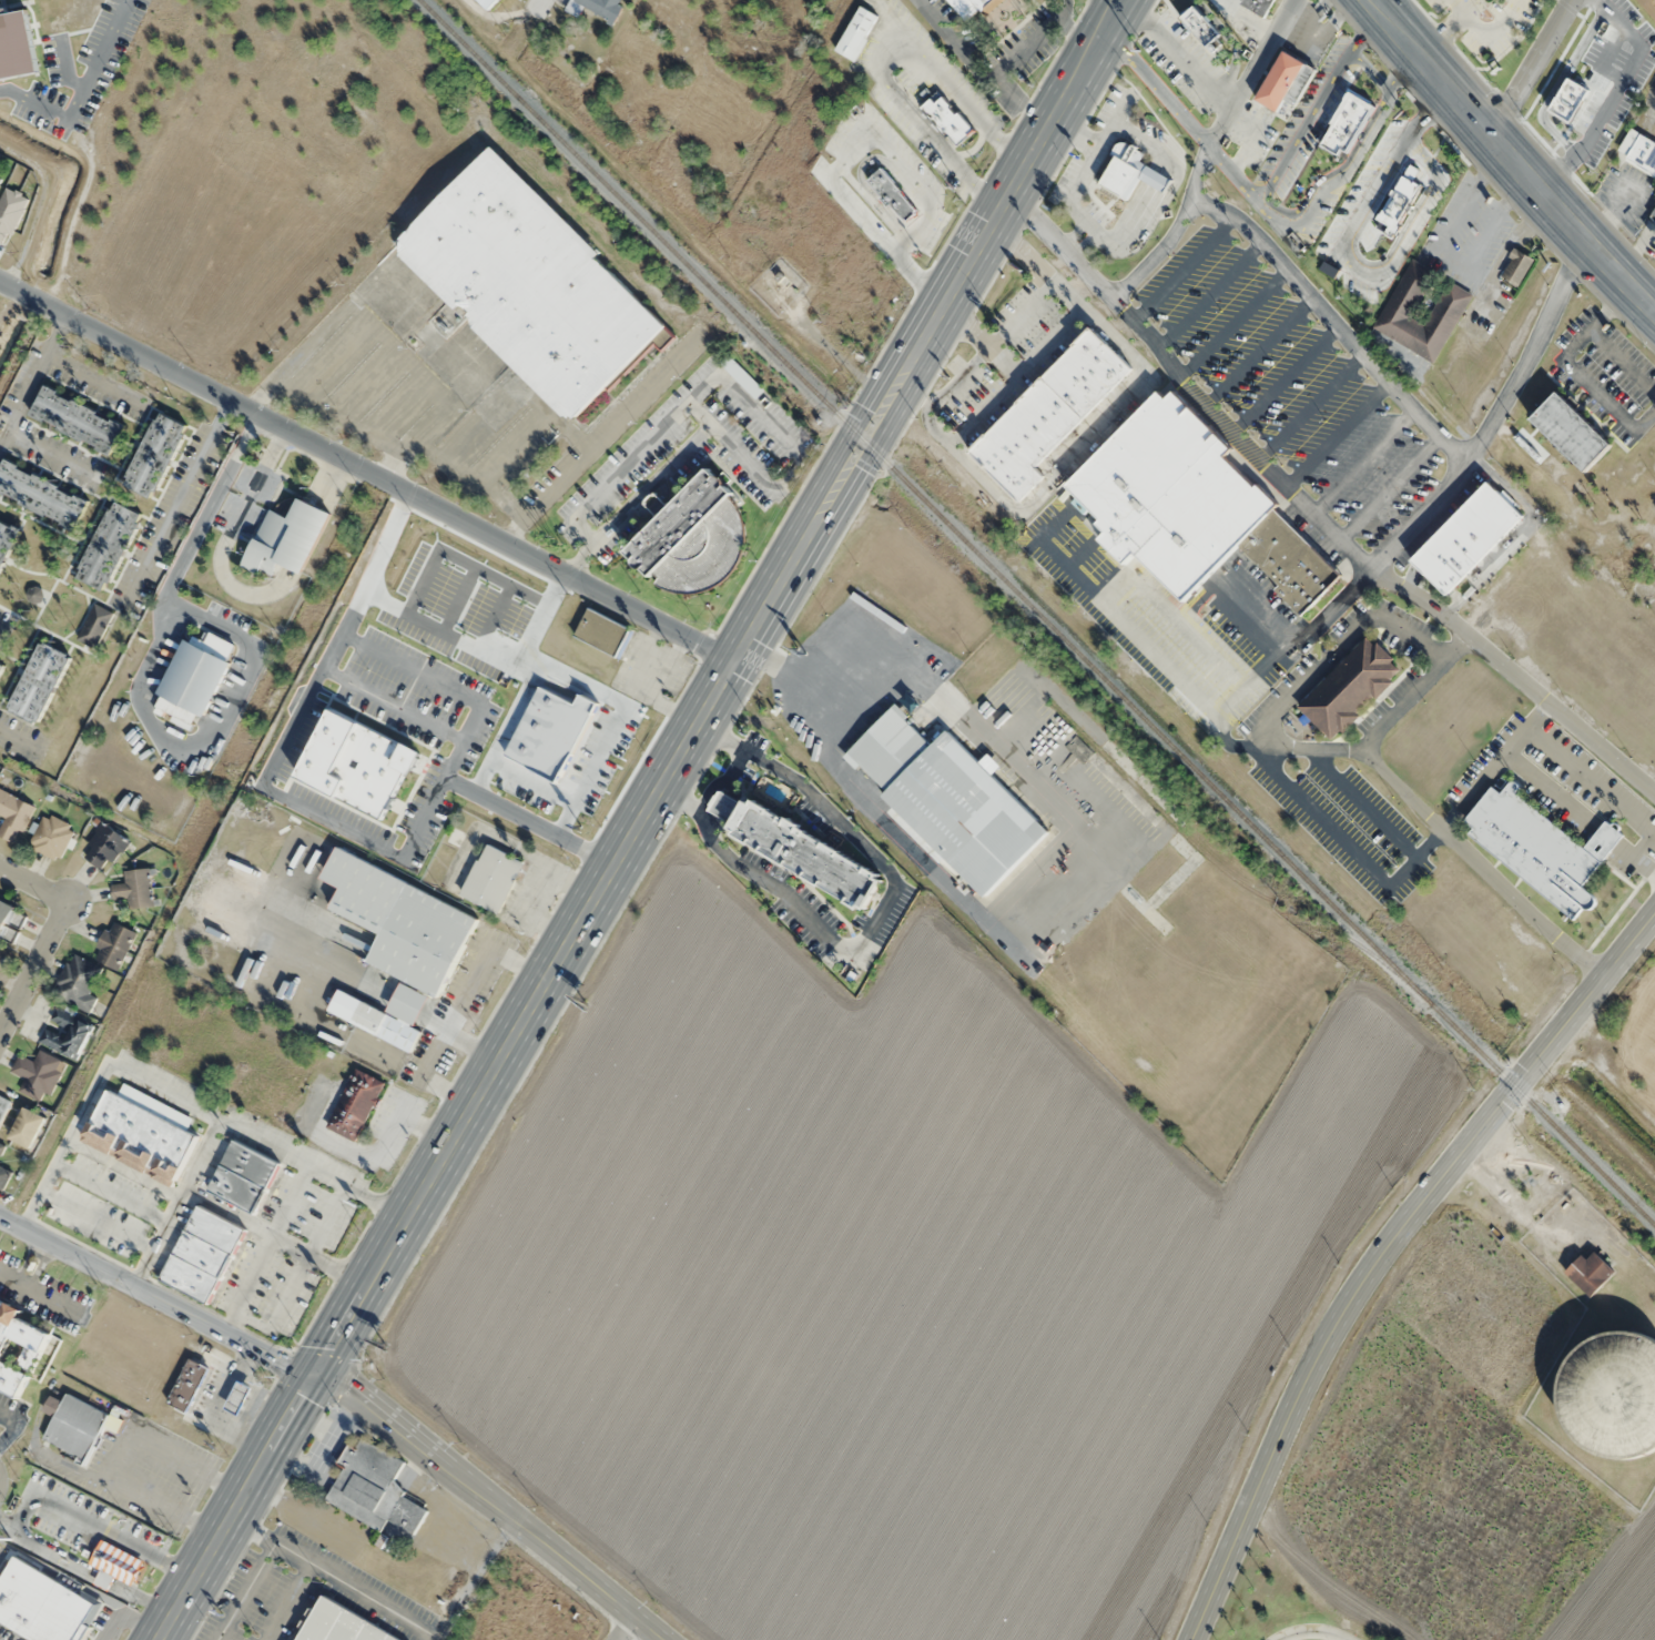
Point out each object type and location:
building: (490, 2)
road: (1106, 6)
building: (1260, 6)
building: (601, 7)
building: (969, 7)
road: (536, 9)
building: (1627, 23)
building: (856, 31)
building: (1206, 32)
building: (1495, 42)
road: (1230, 43)
road: (1177, 54)
road: (882, 60)
road: (1533, 69)
road: (1369, 70)
building: (754, 81)
building: (1288, 83)
road: (1317, 105)
building: (948, 120)
road: (922, 121)
building: (1586, 122)
building: (1349, 125)
building: (1641, 150)
road: (1207, 152)
road: (1507, 156)
road: (862, 164)
road: (905, 169)
road: (1382, 169)
road: (1340, 170)
building: (1126, 176)
building: (893, 194)
building: (1388, 203)
road: (1271, 210)
building: (1652, 216)
road: (1403, 236)
road: (886, 242)
building: (1516, 266)
road: (1184, 270)
building: (528, 282)
road: (1209, 296)
building: (1401, 305)
road: (1333, 322)
road: (1233, 324)
road: (1260, 353)
road: (31, 374)
road: (89, 377)
road: (1286, 379)
road: (1185, 383)
road: (1310, 405)
building: (1052, 411)
building: (77, 421)
building: (1572, 431)
road: (1336, 432)
building: (164, 435)
road: (48, 452)
road: (1363, 460)
road: (1461, 465)
road: (369, 467)
building: (144, 474)
road: (1389, 486)
building: (41, 495)
road: (183, 499)
building: (1192, 506)
building: (676, 518)
building: (119, 526)
building: (1468, 537)
building: (286, 539)
road: (464, 561)
building: (98, 565)
road: (369, 579)
road: (461, 600)
railway: (1036, 611)
road: (546, 614)
road: (497, 617)
building: (95, 625)
building: (603, 632)
road: (450, 635)
building: (0, 667)
parking lot: (511, 668)
building: (39, 681)
road: (719, 685)
road: (450, 686)
building: (1350, 688)
road: (395, 706)
road: (1384, 721)
road: (616, 729)
road: (508, 731)
road: (13, 733)
building: (550, 733)
parking lot: (290, 749)
building: (358, 763)
road: (536, 781)
road: (721, 781)
building: (948, 798)
road: (316, 814)
building: (13, 816)
road: (530, 821)
building: (51, 836)
building: (104, 847)
building: (1541, 847)
building: (801, 851)
building: (491, 878)
building: (134, 889)
road: (876, 918)
building: (400, 922)
building: (10, 923)
road: (48, 937)
building: (114, 945)
building: (78, 982)
building: (394, 1018)
building: (65, 1033)
building: (37, 1074)
building: (355, 1105)
building: (27, 1127)
building: (140, 1138)
building: (0, 1142)
building: (2, 1176)
building: (243, 1177)
road: (1381, 1246)
building: (203, 1254)
road: (29, 1259)
road: (40, 1265)
building: (1591, 1272)
road: (38, 1294)
road: (158, 1297)
building: (17, 1347)
traffic signals: (319, 1373)
building: (189, 1384)
building: (1620, 1394)
building: (73, 1424)
road: (11, 1427)
building: (367, 1481)
road: (235, 1505)
road: (488, 1506)
road: (94, 1526)
road: (304, 1560)
building: (116, 1561)
road: (90, 1571)
road: (245, 1591)
building: (42, 1604)
building: (339, 1624)
road: (626, 1630)

